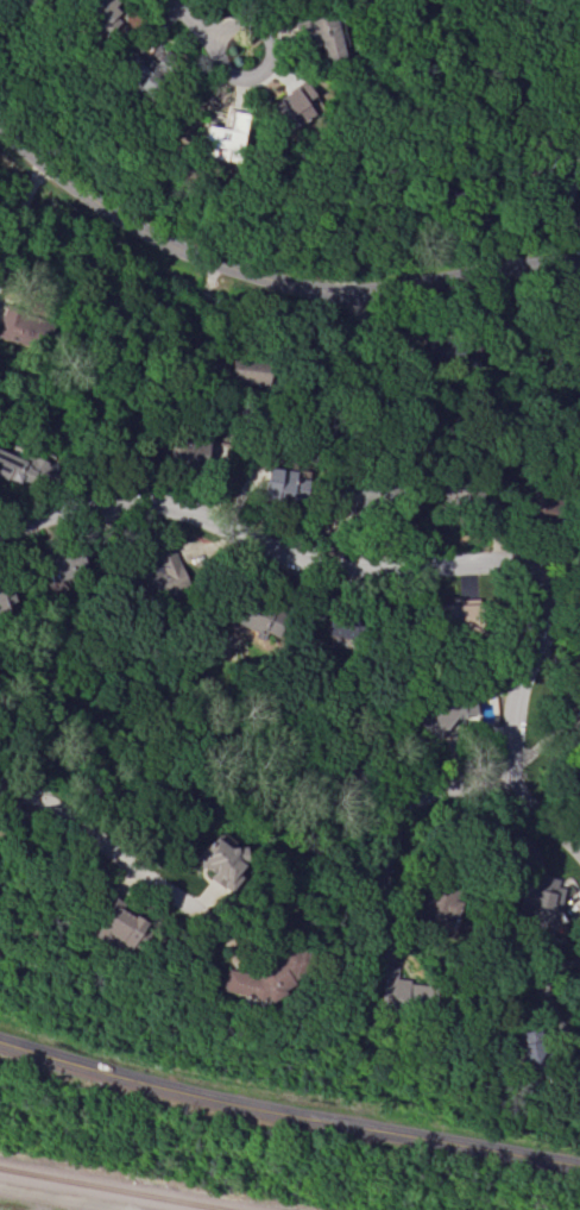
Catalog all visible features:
building: (89, 15)
building: (315, 26)
road: (202, 27)
building: (144, 70)
building: (509, 88)
building: (290, 106)
building: (220, 134)
road: (538, 136)
building: (551, 177)
road: (17, 209)
road: (272, 277)
road: (196, 313)
building: (14, 326)
building: (449, 351)
building: (245, 371)
building: (184, 452)
building: (21, 465)
building: (282, 484)
building: (355, 493)
building: (535, 506)
road: (409, 560)
building: (61, 568)
building: (160, 575)
building: (5, 600)
building: (458, 614)
building: (256, 620)
building: (339, 629)
building: (459, 710)
building: (578, 717)
building: (347, 779)
road: (429, 792)
road: (105, 842)
building: (215, 859)
building: (536, 901)
building: (434, 907)
building: (121, 928)
road: (561, 963)
building: (258, 980)
building: (398, 998)
building: (527, 1055)
building: (579, 1082)
road: (286, 1114)
railway: (115, 1189)

